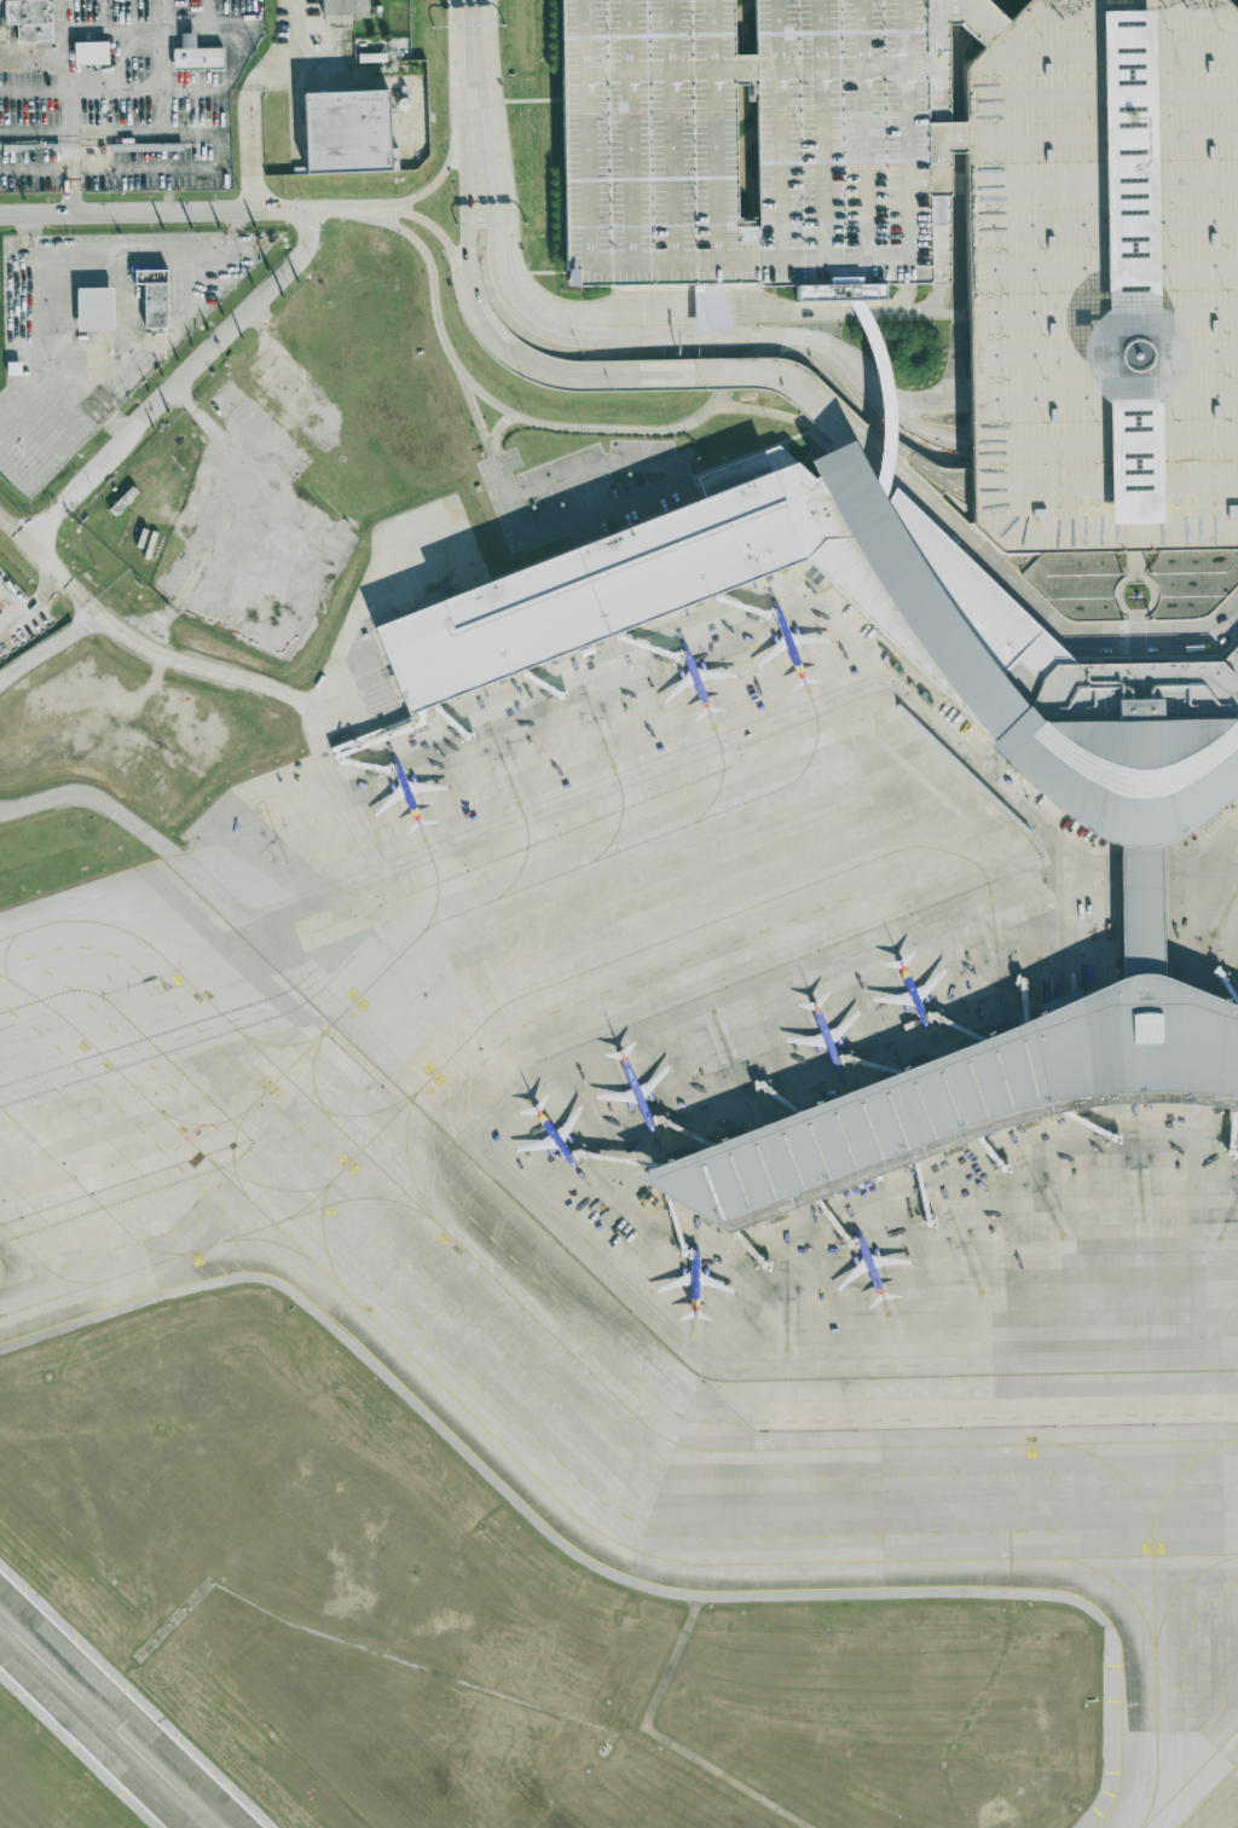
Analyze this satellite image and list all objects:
building: (340, 6)
road: (64, 13)
road: (206, 13)
road: (974, 16)
building: (33, 18)
road: (125, 28)
road: (299, 33)
road: (342, 39)
road: (470, 41)
road: (168, 44)
building: (94, 53)
building: (202, 54)
road: (291, 65)
road: (145, 88)
parking lot: (120, 92)
road: (70, 104)
road: (472, 109)
building: (754, 120)
building: (348, 132)
parking lot: (752, 143)
road: (219, 149)
road: (249, 149)
building: (77, 150)
road: (450, 161)
road: (480, 161)
road: (68, 162)
road: (75, 162)
road: (79, 174)
road: (65, 175)
road: (79, 198)
road: (65, 199)
road: (369, 210)
road: (330, 212)
road: (155, 214)
road: (470, 215)
road: (237, 224)
road: (24, 226)
road: (442, 237)
road: (137, 247)
road: (941, 259)
road: (519, 273)
building: (1106, 276)
parking lot: (1106, 276)
road: (122, 299)
building: (144, 301)
road: (902, 302)
road: (475, 303)
building: (710, 307)
road: (1104, 311)
building: (86, 312)
road: (849, 312)
road: (644, 313)
road: (711, 313)
parking lot: (98, 330)
road: (595, 337)
road: (31, 342)
road: (826, 343)
road: (114, 359)
road: (197, 361)
road: (659, 374)
road: (878, 389)
road: (27, 392)
road: (899, 395)
road: (1105, 403)
road: (922, 406)
road: (956, 406)
road: (1211, 407)
road: (762, 409)
road: (480, 415)
road: (895, 415)
road: (1104, 417)
road: (955, 420)
road: (118, 424)
road: (498, 428)
road: (572, 428)
road: (915, 447)
road: (1105, 447)
road: (909, 459)
road: (676, 469)
road: (1105, 478)
road: (1155, 486)
parking lot: (579, 488)
road: (511, 497)
road: (42, 522)
road: (40, 559)
road: (1150, 583)
road: (1023, 592)
road: (34, 594)
road: (1117, 596)
road: (360, 600)
road: (294, 603)
parking lot: (13, 606)
road: (13, 614)
road: (1135, 636)
road: (47, 643)
road: (1135, 658)
road: (283, 694)
road: (704, 746)
airport terminal: (1136, 829)
building: (1136, 829)
road: (1214, 852)
road: (1211, 862)
airport taxiway: (556, 873)
airport apron: (1202, 904)
airport: (619, 914)
airport taxiway: (47, 921)
airport taxiway: (566, 977)
airport taxiway: (235, 1025)
road: (156, 1042)
airport taxiway: (289, 1042)
airport taxiway: (299, 1055)
airport apron: (663, 1099)
airport taxiway: (326, 1111)
airport taxiway: (203, 1123)
airport taxiway: (407, 1156)
airport taxiway: (266, 1185)
airport taxiway: (86, 1188)
airport taxiway: (354, 1197)
road: (560, 1227)
airport taxiway: (323, 1237)
airport taxiway: (264, 1239)
airport taxiway: (191, 1250)
airport taxiway: (45, 1266)
airport taxiway: (740, 1447)
airport taxiway: (533, 1474)
airport taxiway: (1151, 1550)
airport taxiway: (1153, 1649)
airport taxiway: (1155, 1682)
airport runway: (106, 1724)
airport taxiway: (1188, 1776)
airport apron: (1236, 1826)

